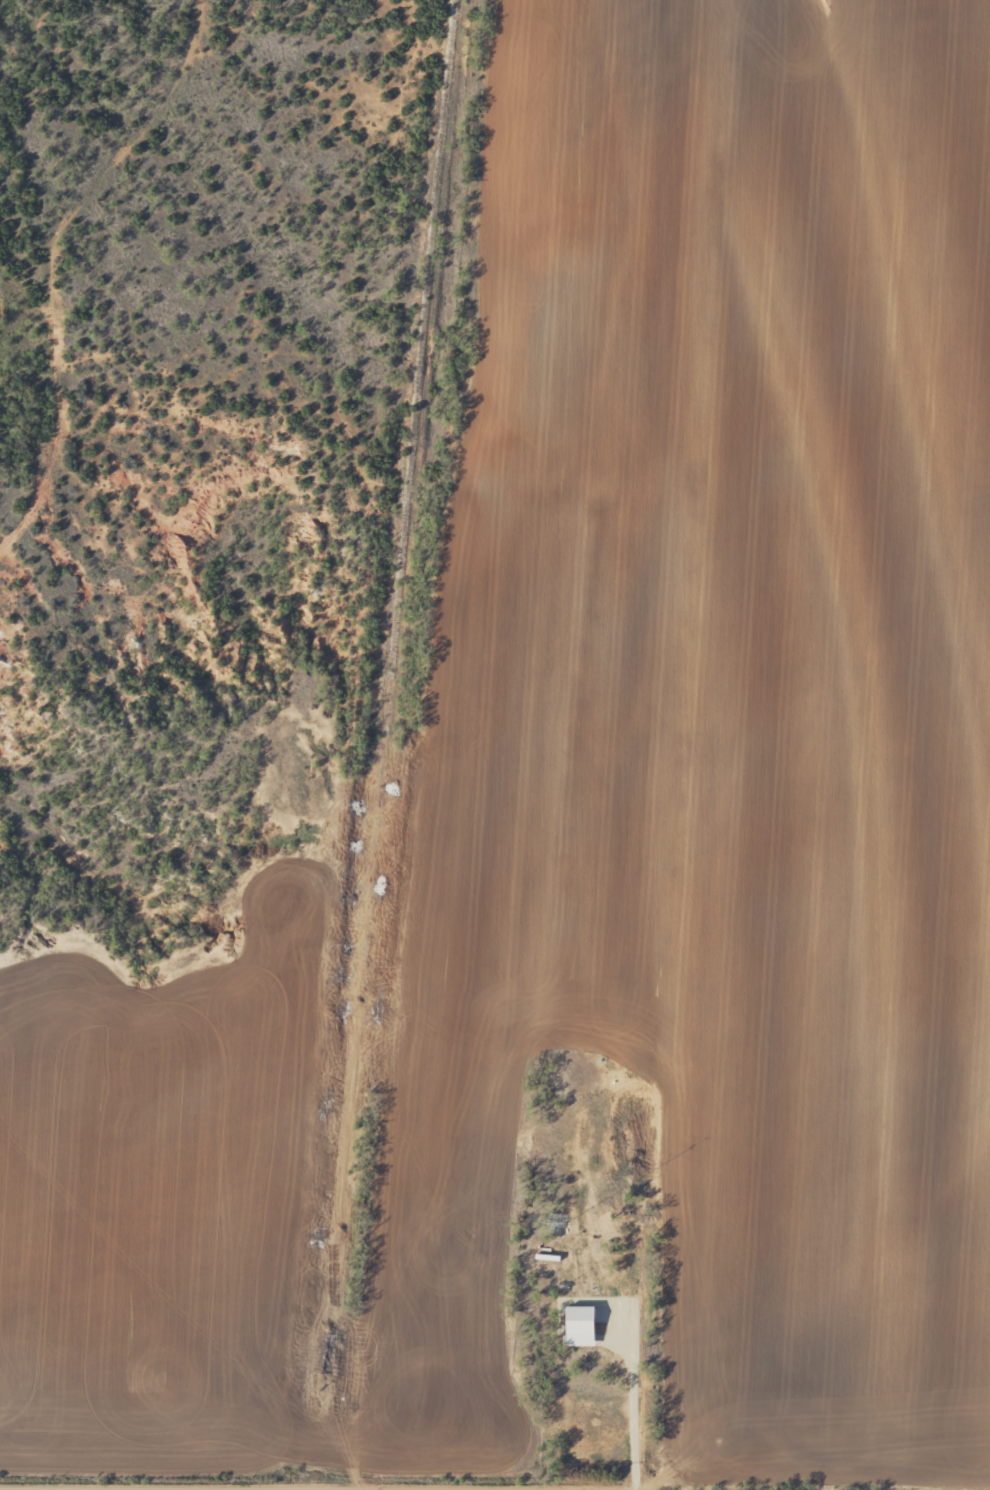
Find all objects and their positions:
railway: (387, 745)
road: (581, 751)

